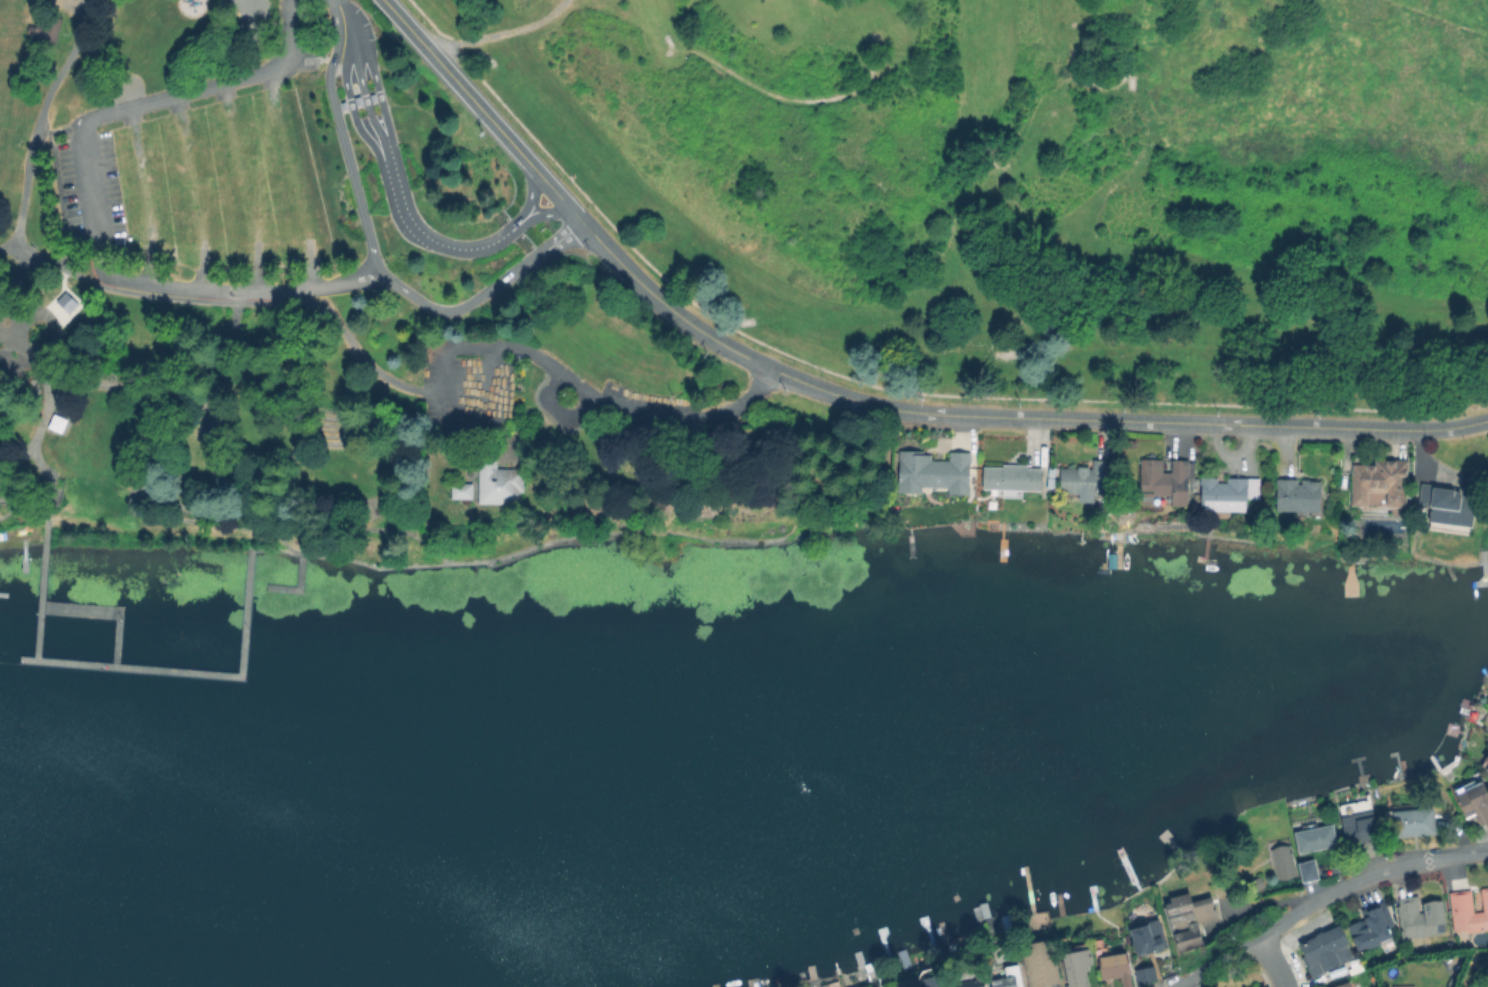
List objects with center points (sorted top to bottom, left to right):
road: (336, 0)
road: (836, 0)
road: (1437, 18)
building: (43, 29)
road: (500, 31)
road: (331, 63)
road: (360, 86)
building: (371, 97)
building: (356, 100)
road: (798, 101)
road: (141, 104)
building: (341, 105)
road: (484, 113)
road: (361, 133)
road: (28, 167)
road: (291, 179)
park: (1040, 183)
parking lot: (221, 185)
road: (242, 187)
road: (193, 192)
road: (396, 193)
parking lot: (90, 194)
road: (143, 195)
road: (79, 218)
road: (8, 245)
road: (372, 257)
road: (350, 279)
road: (213, 291)
building: (65, 301)
park: (337, 318)
road: (365, 360)
road: (197, 361)
road: (56, 371)
road: (97, 383)
parking lot: (462, 385)
road: (57, 391)
road: (593, 395)
parking lot: (647, 398)
road: (745, 399)
road: (44, 403)
road: (555, 410)
road: (1008, 417)
building: (55, 422)
road: (445, 423)
building: (214, 435)
road: (767, 464)
building: (933, 471)
building: (1012, 476)
building: (1083, 479)
building: (1165, 479)
building: (497, 480)
building: (1379, 480)
road: (702, 481)
building: (460, 490)
building: (1227, 492)
building: (1296, 494)
building: (1422, 494)
road: (297, 496)
road: (46, 500)
road: (23, 501)
building: (1451, 506)
road: (154, 511)
road: (546, 541)
road: (275, 548)
pier: (5, 579)
pier: (41, 584)
pier: (297, 584)
pier: (105, 610)
pier: (194, 671)
building: (1486, 767)
building: (1472, 801)
building: (1412, 821)
building: (1358, 827)
building: (1313, 838)
building: (1280, 860)
building: (1307, 871)
building: (1254, 884)
road: (1323, 896)
building: (1468, 911)
building: (1186, 916)
building: (1420, 917)
building: (1370, 926)
building: (1146, 937)
building: (1325, 950)
road: (1271, 962)
building: (1039, 964)
building: (1075, 967)
building: (1114, 967)
building: (1143, 975)
building: (1006, 979)
building: (928, 982)
building: (968, 983)
building: (1343, 985)
building: (947, 986)

